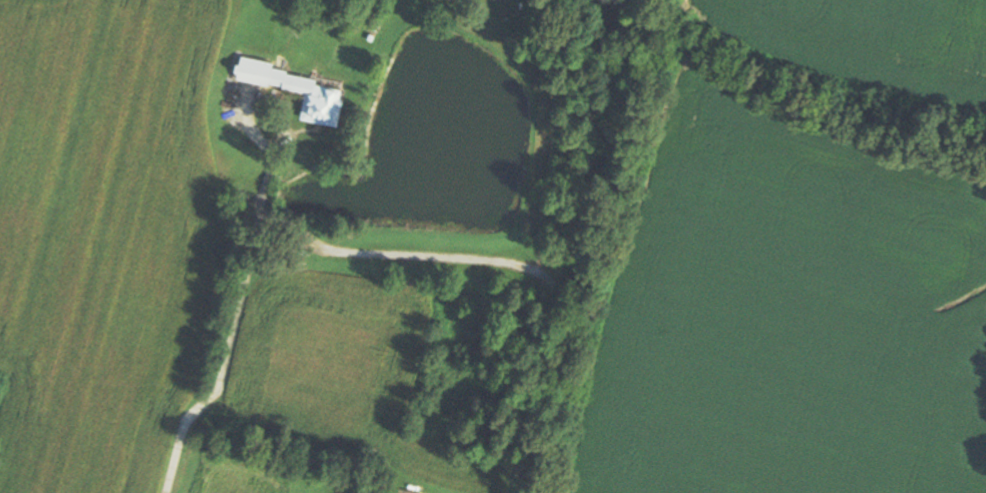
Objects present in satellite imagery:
building: (303, 87)
road: (382, 295)

